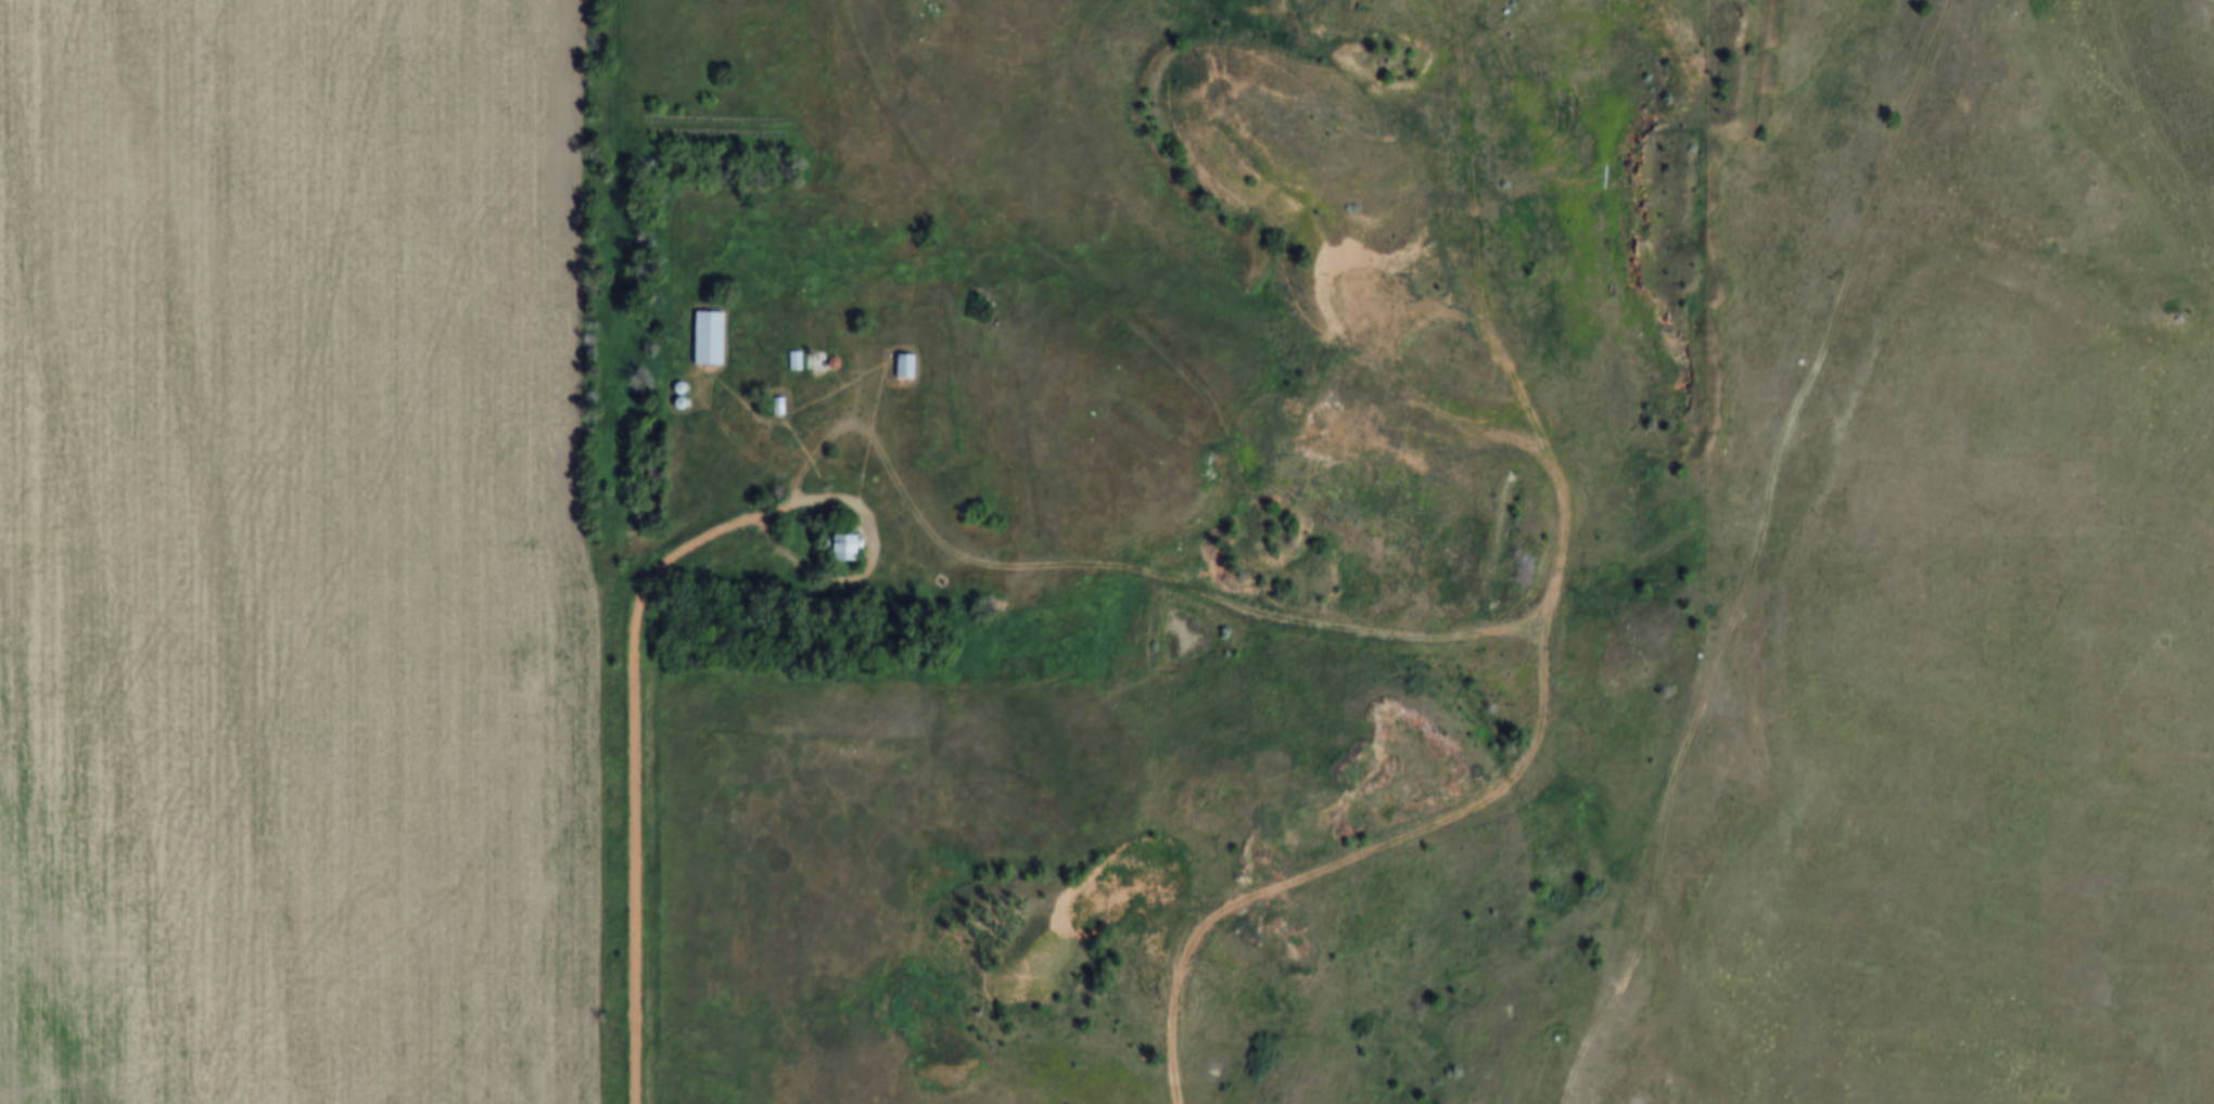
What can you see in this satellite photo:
building: (711, 336)
road: (1167, 352)
building: (797, 359)
building: (905, 364)
quarry: (1313, 536)
building: (843, 545)
road: (875, 556)
road: (1755, 556)
road: (635, 771)

